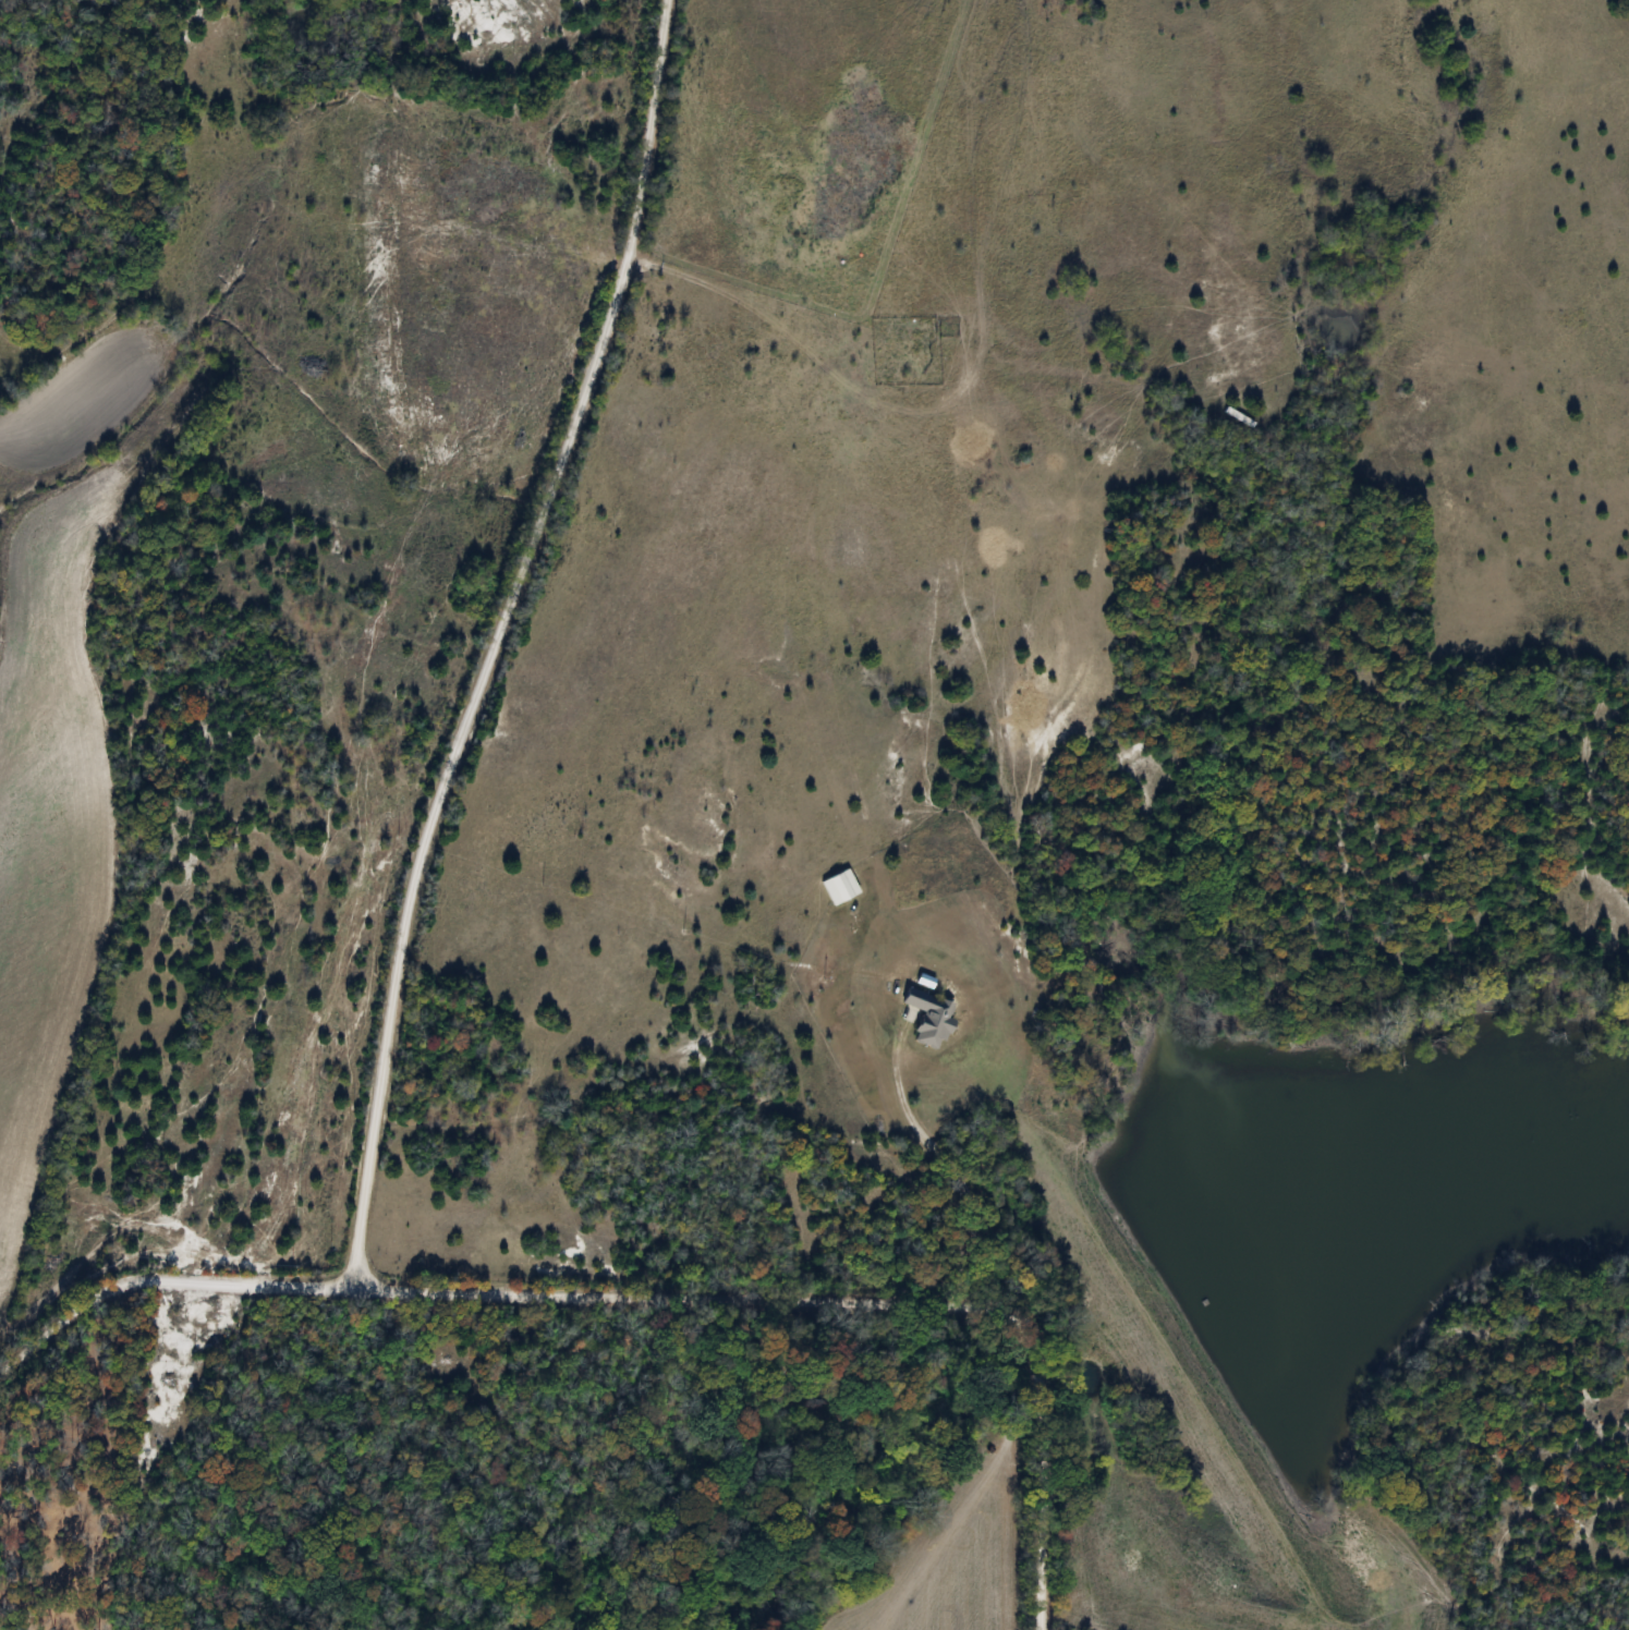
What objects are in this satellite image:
road: (495, 642)
road: (162, 1284)
road: (842, 1301)

